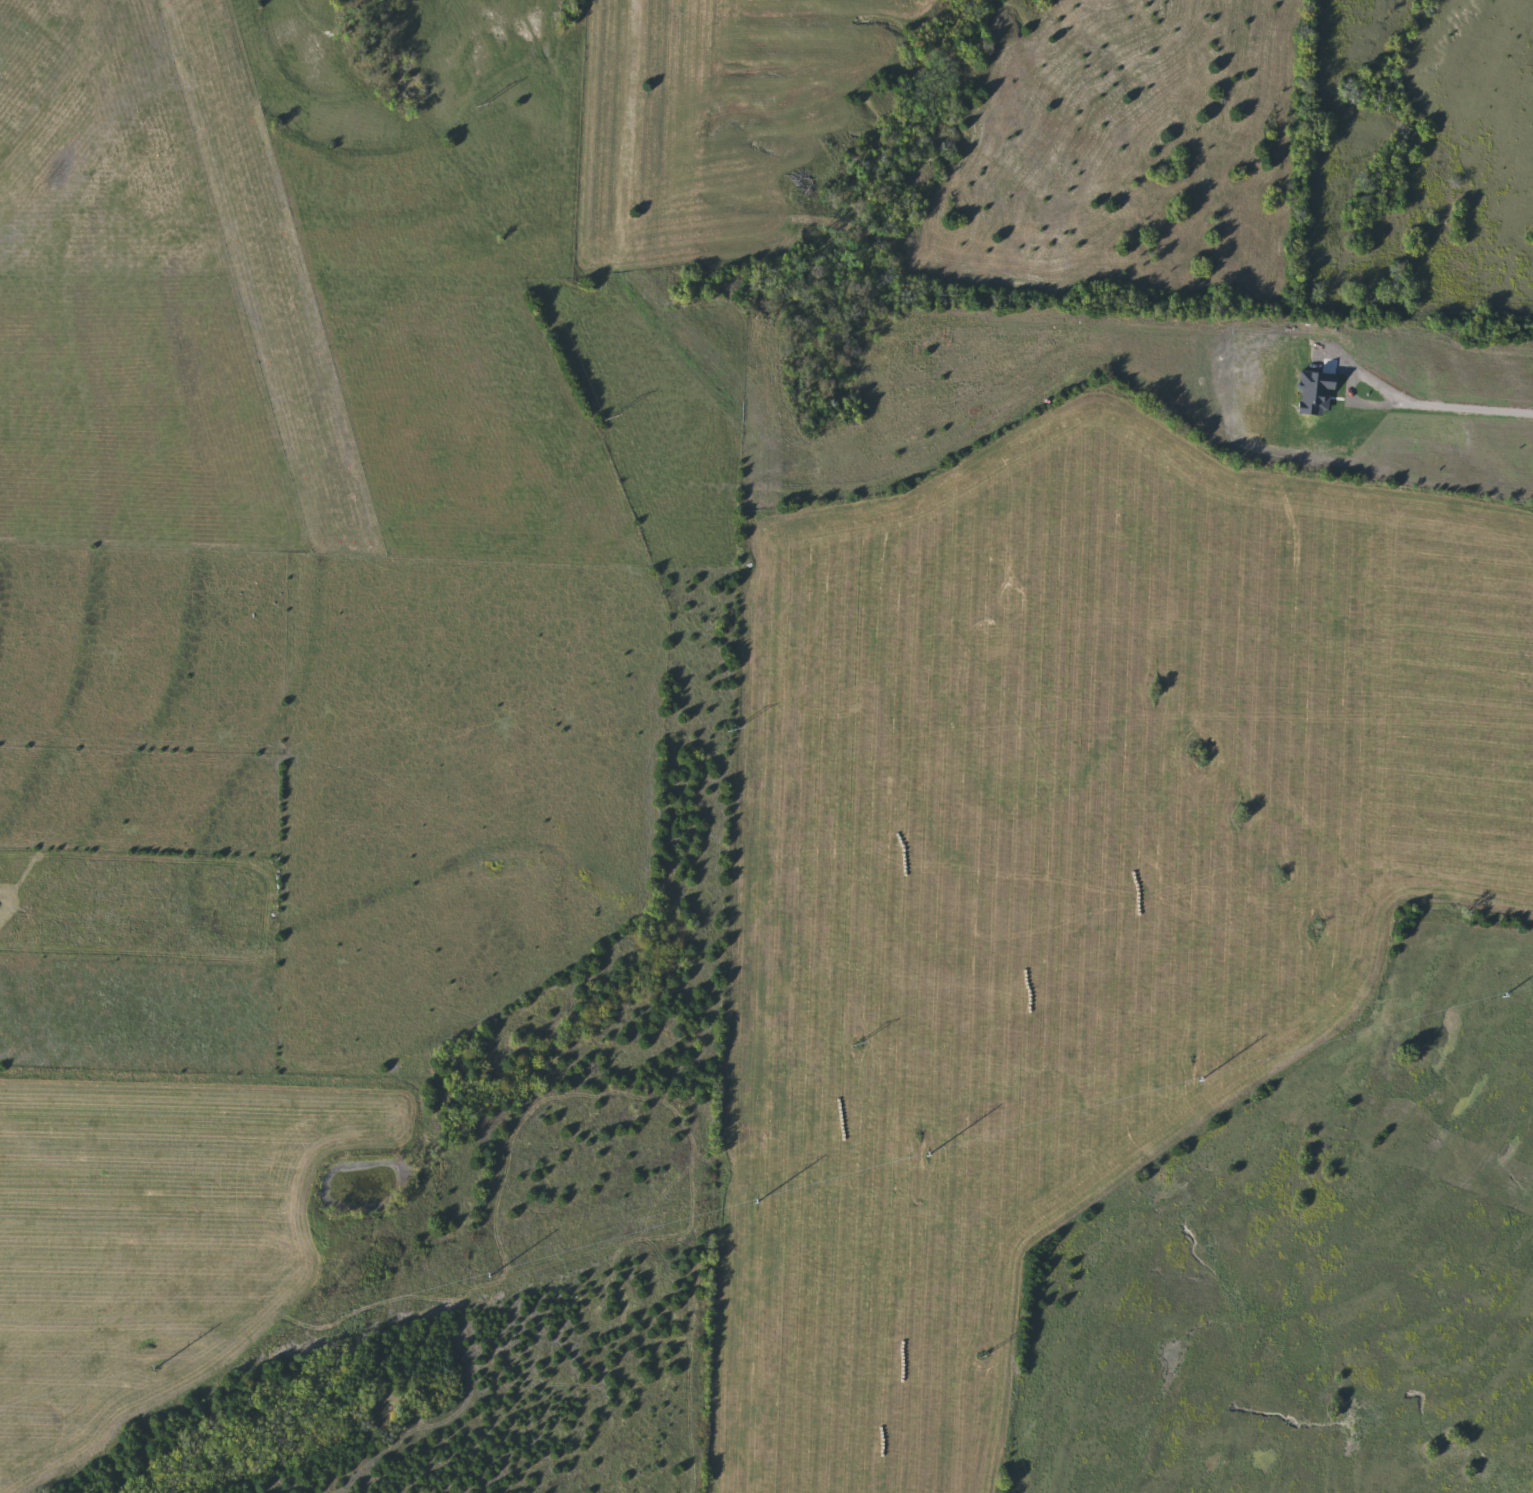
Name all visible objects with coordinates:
road: (1443, 399)
power tower: (1495, 981)
power tower: (1181, 1067)
power tower: (896, 1142)
power tower: (521, 1254)
power tower: (149, 1353)

